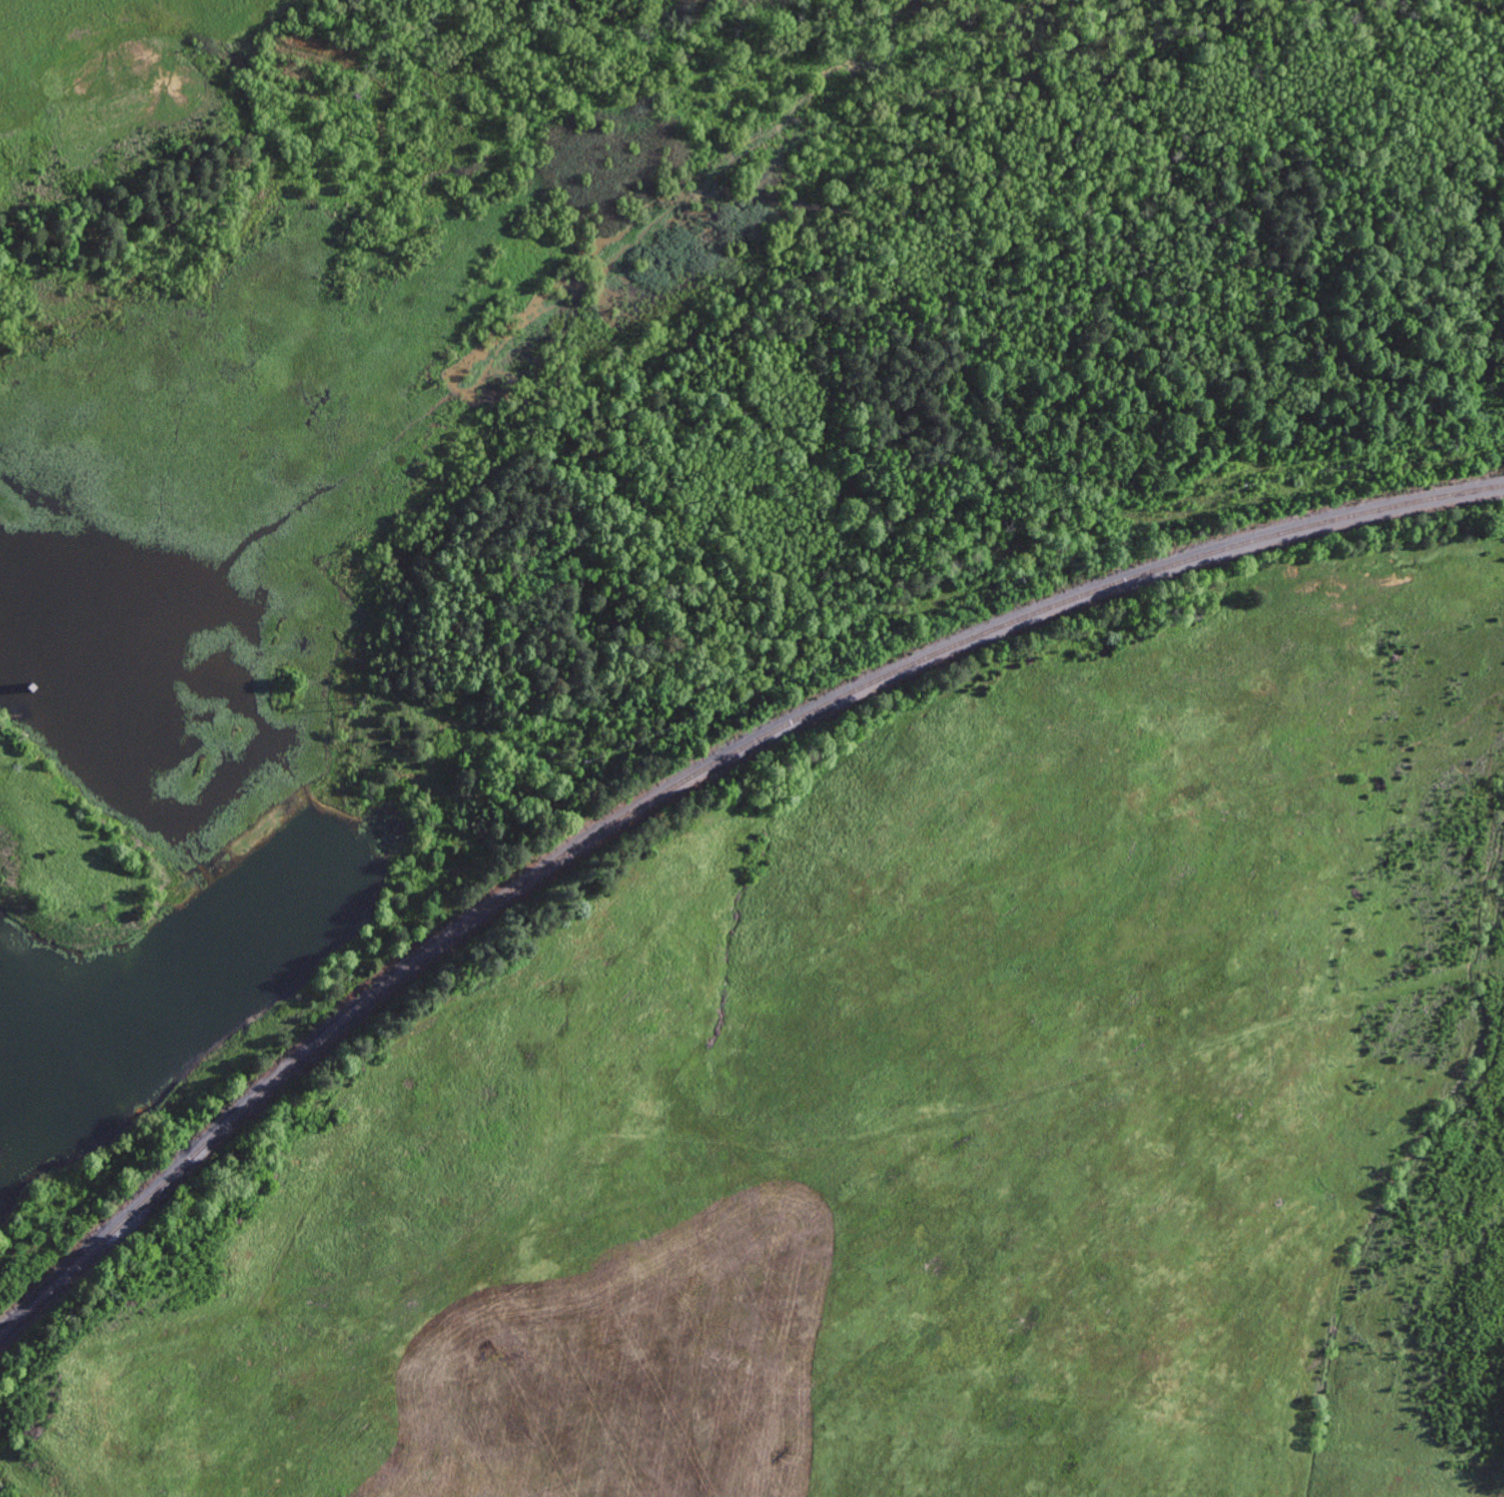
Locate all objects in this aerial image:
railway: (681, 783)

